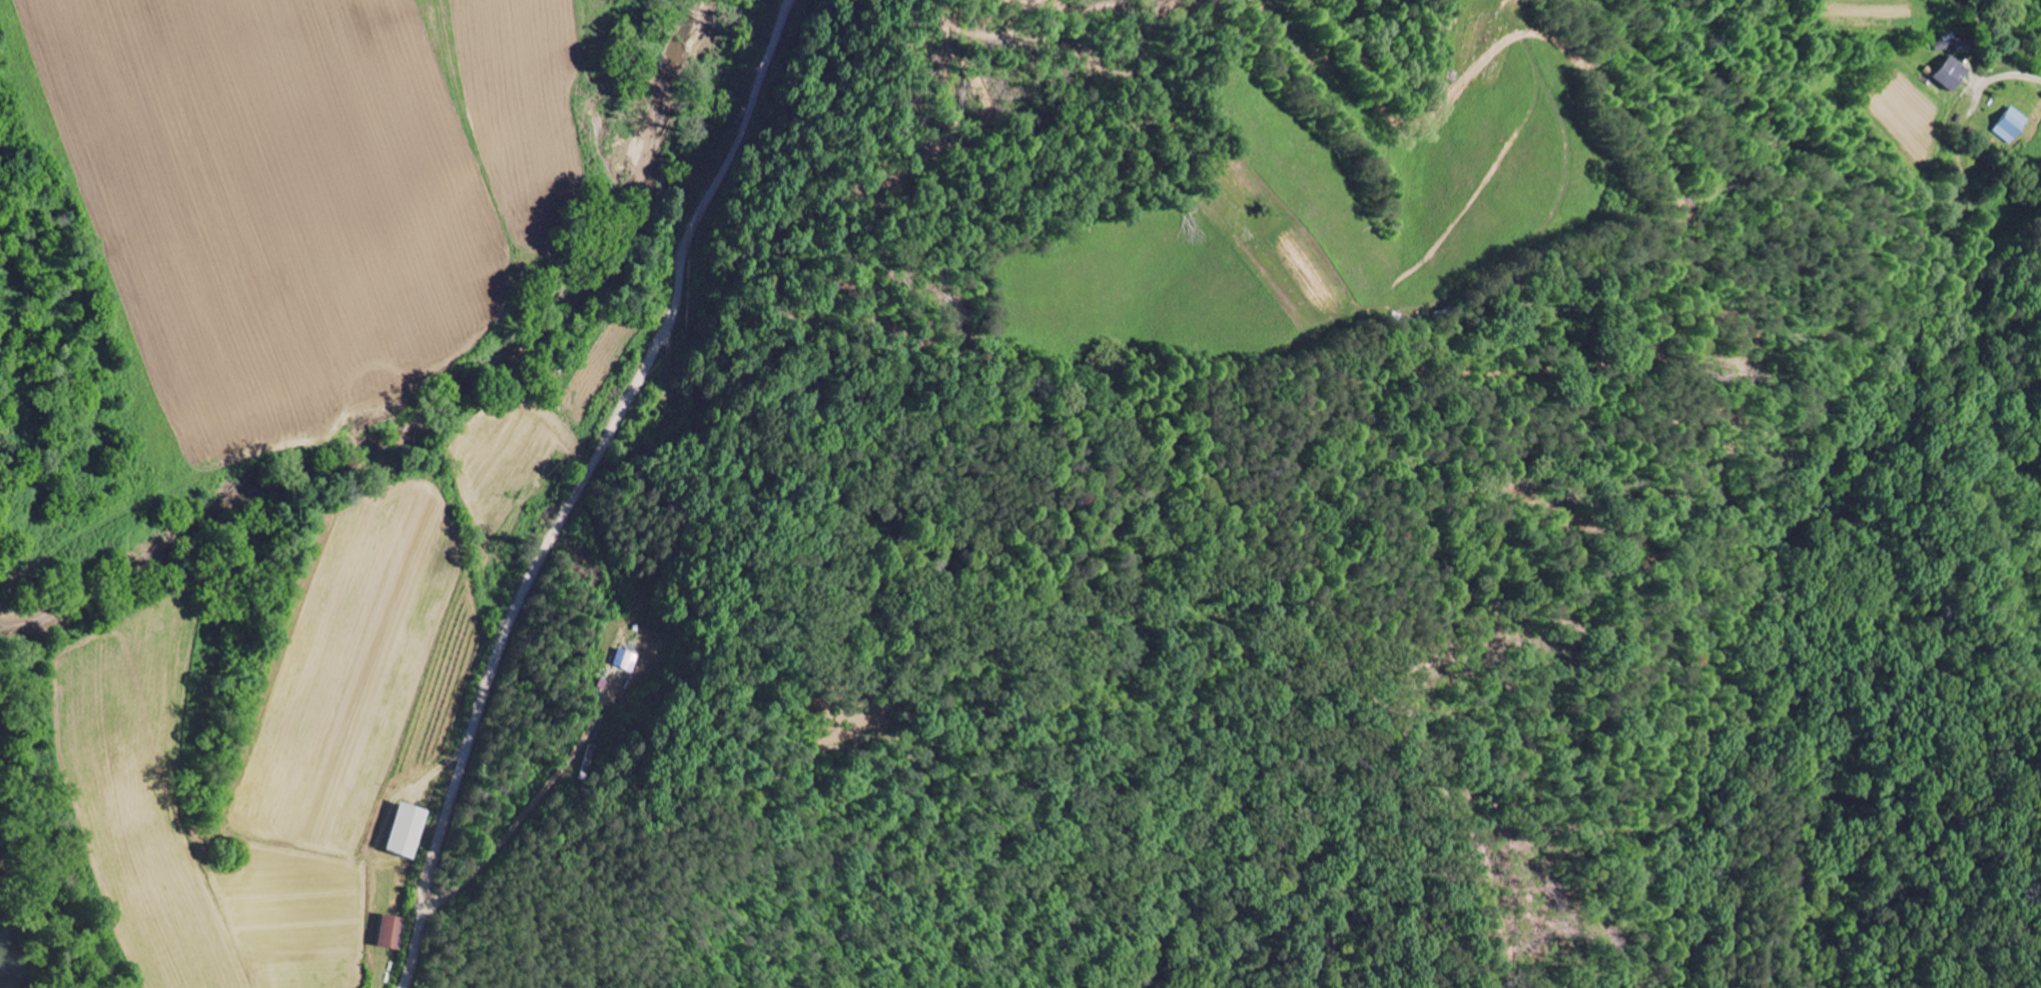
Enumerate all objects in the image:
building: (1947, 72)
road: (2012, 75)
building: (2007, 124)
road: (583, 486)
building: (622, 659)

